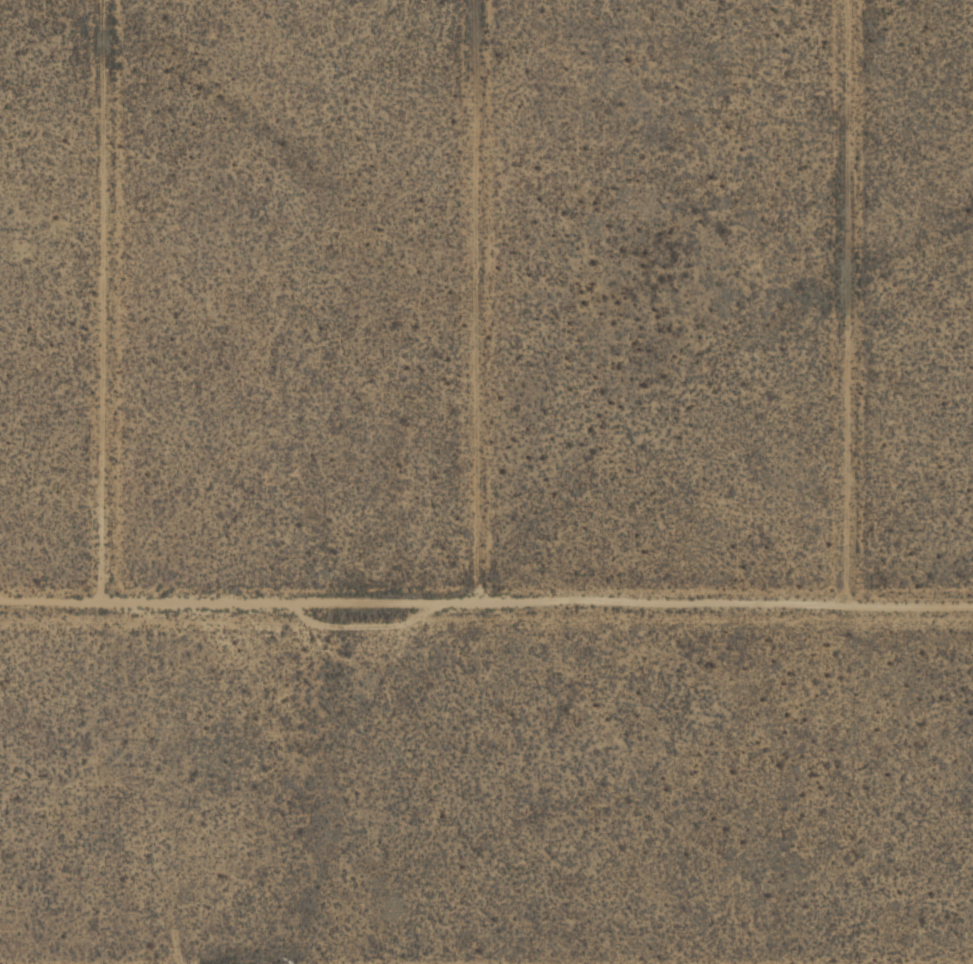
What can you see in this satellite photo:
road: (486, 603)

